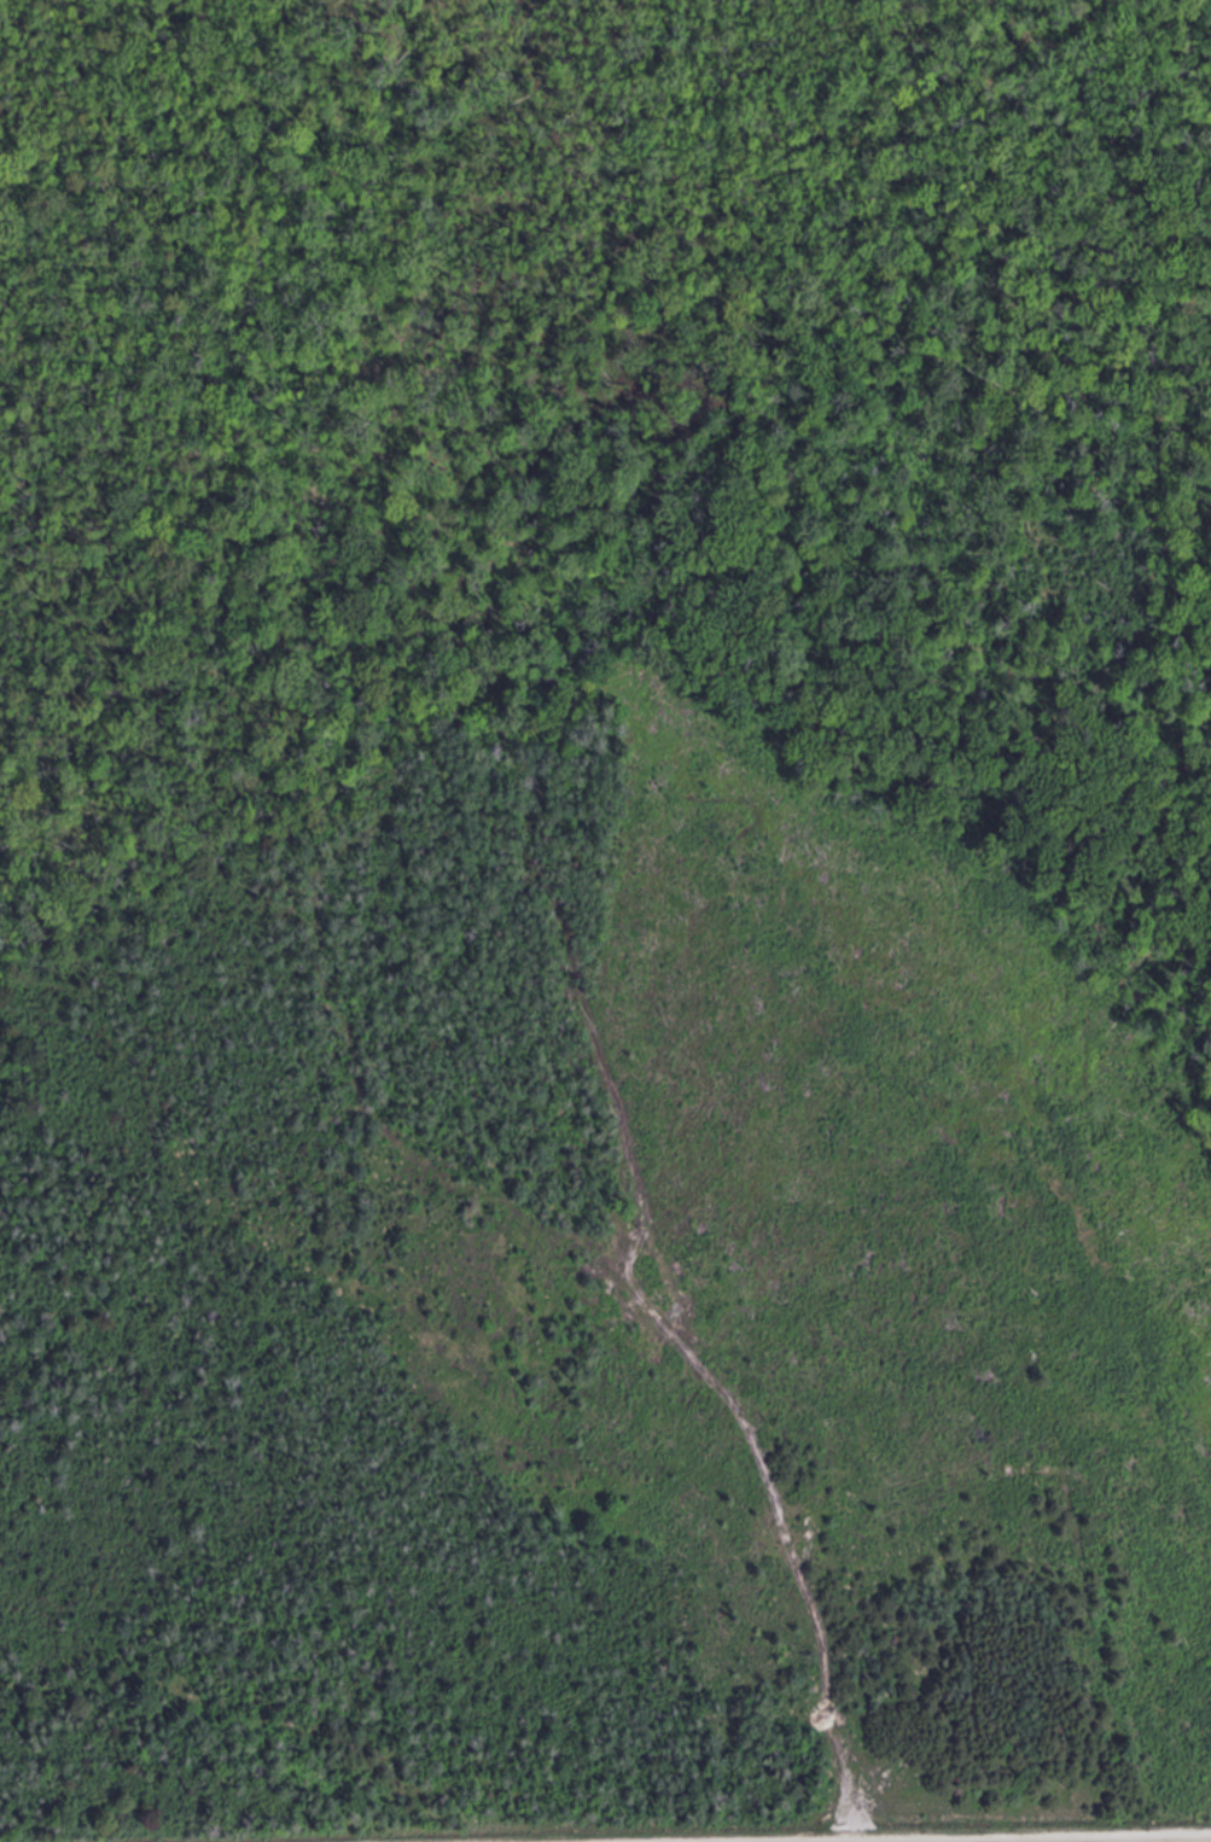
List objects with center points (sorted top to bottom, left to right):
road: (1066, 1838)

